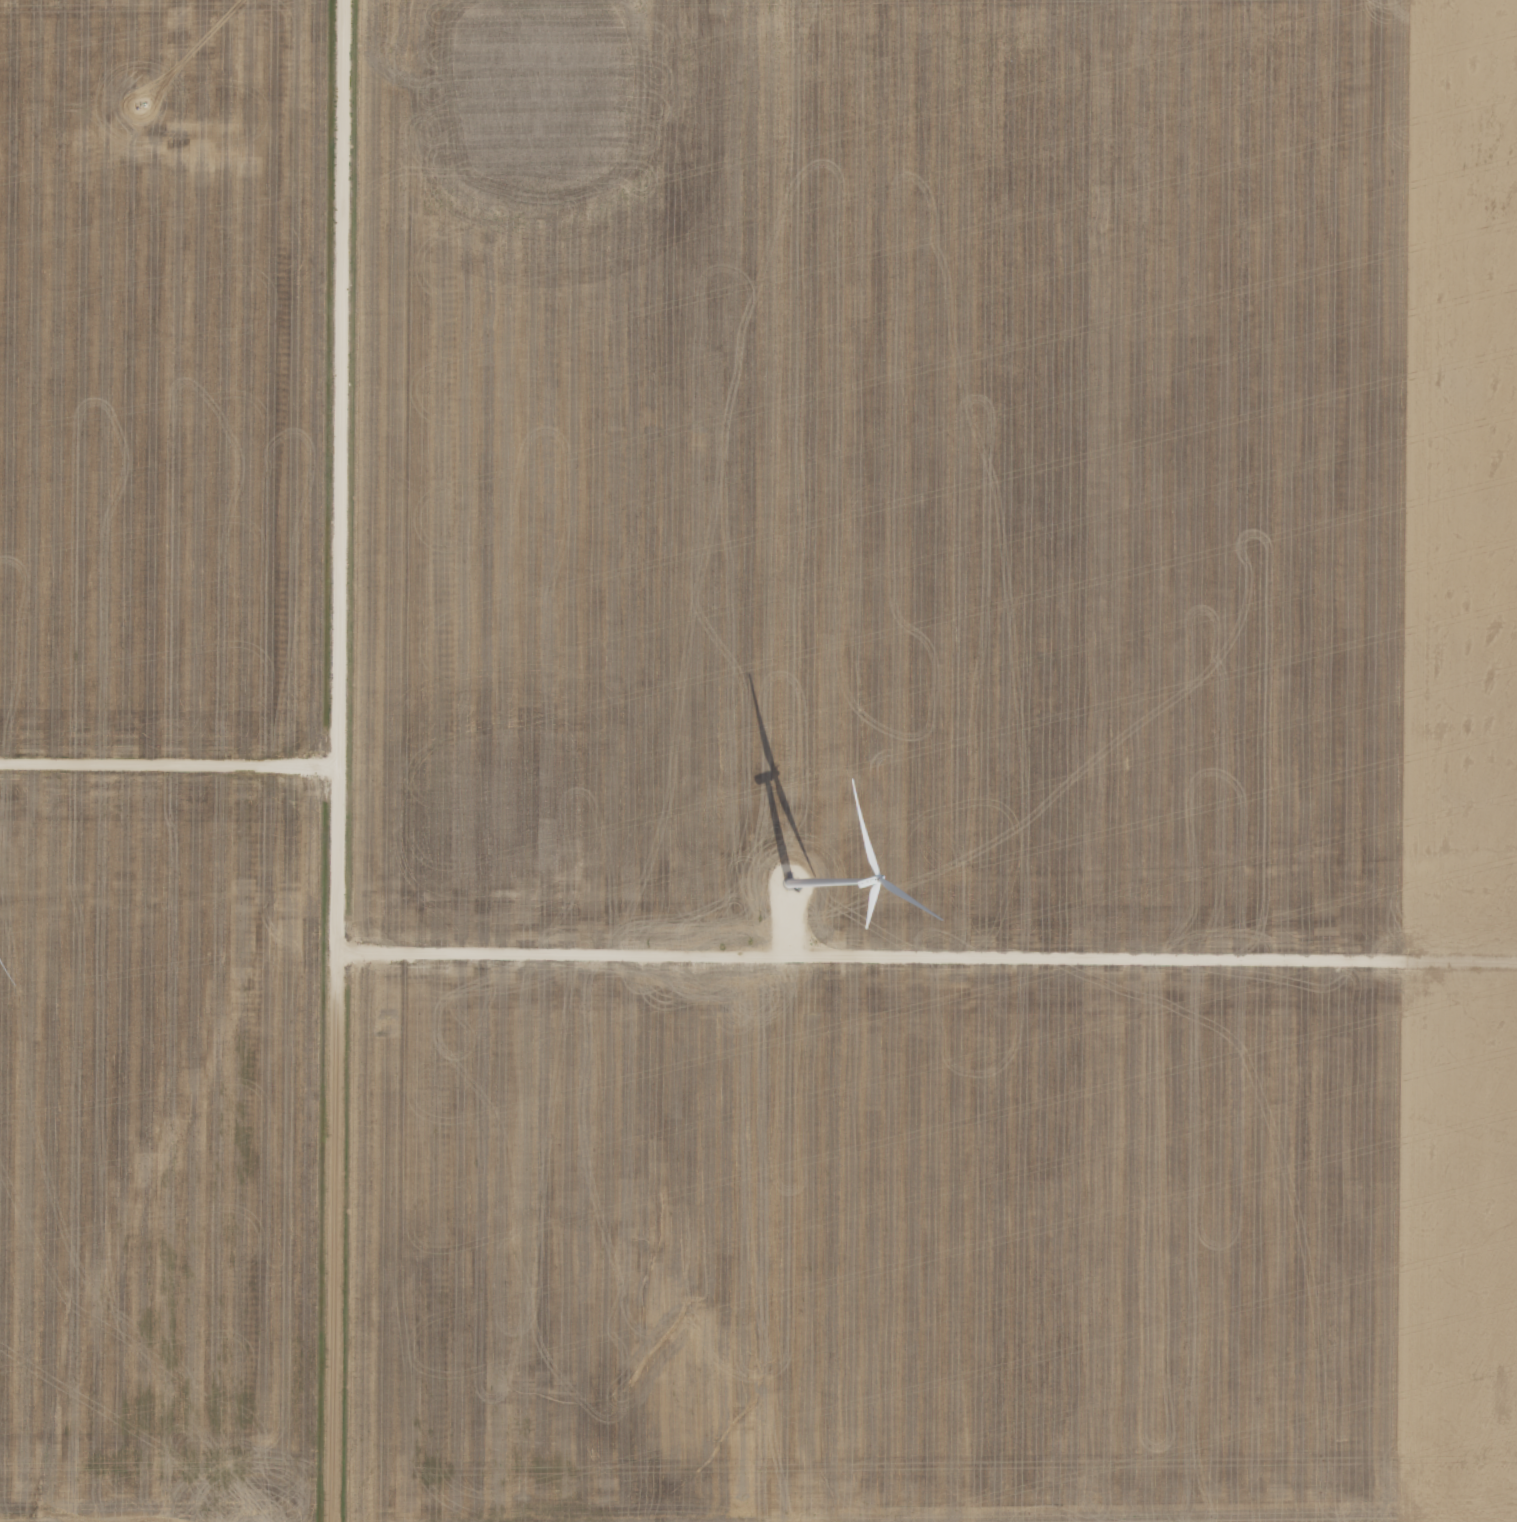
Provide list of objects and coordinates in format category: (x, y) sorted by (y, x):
road: (341, 761)
wind turbine: (789, 887)

